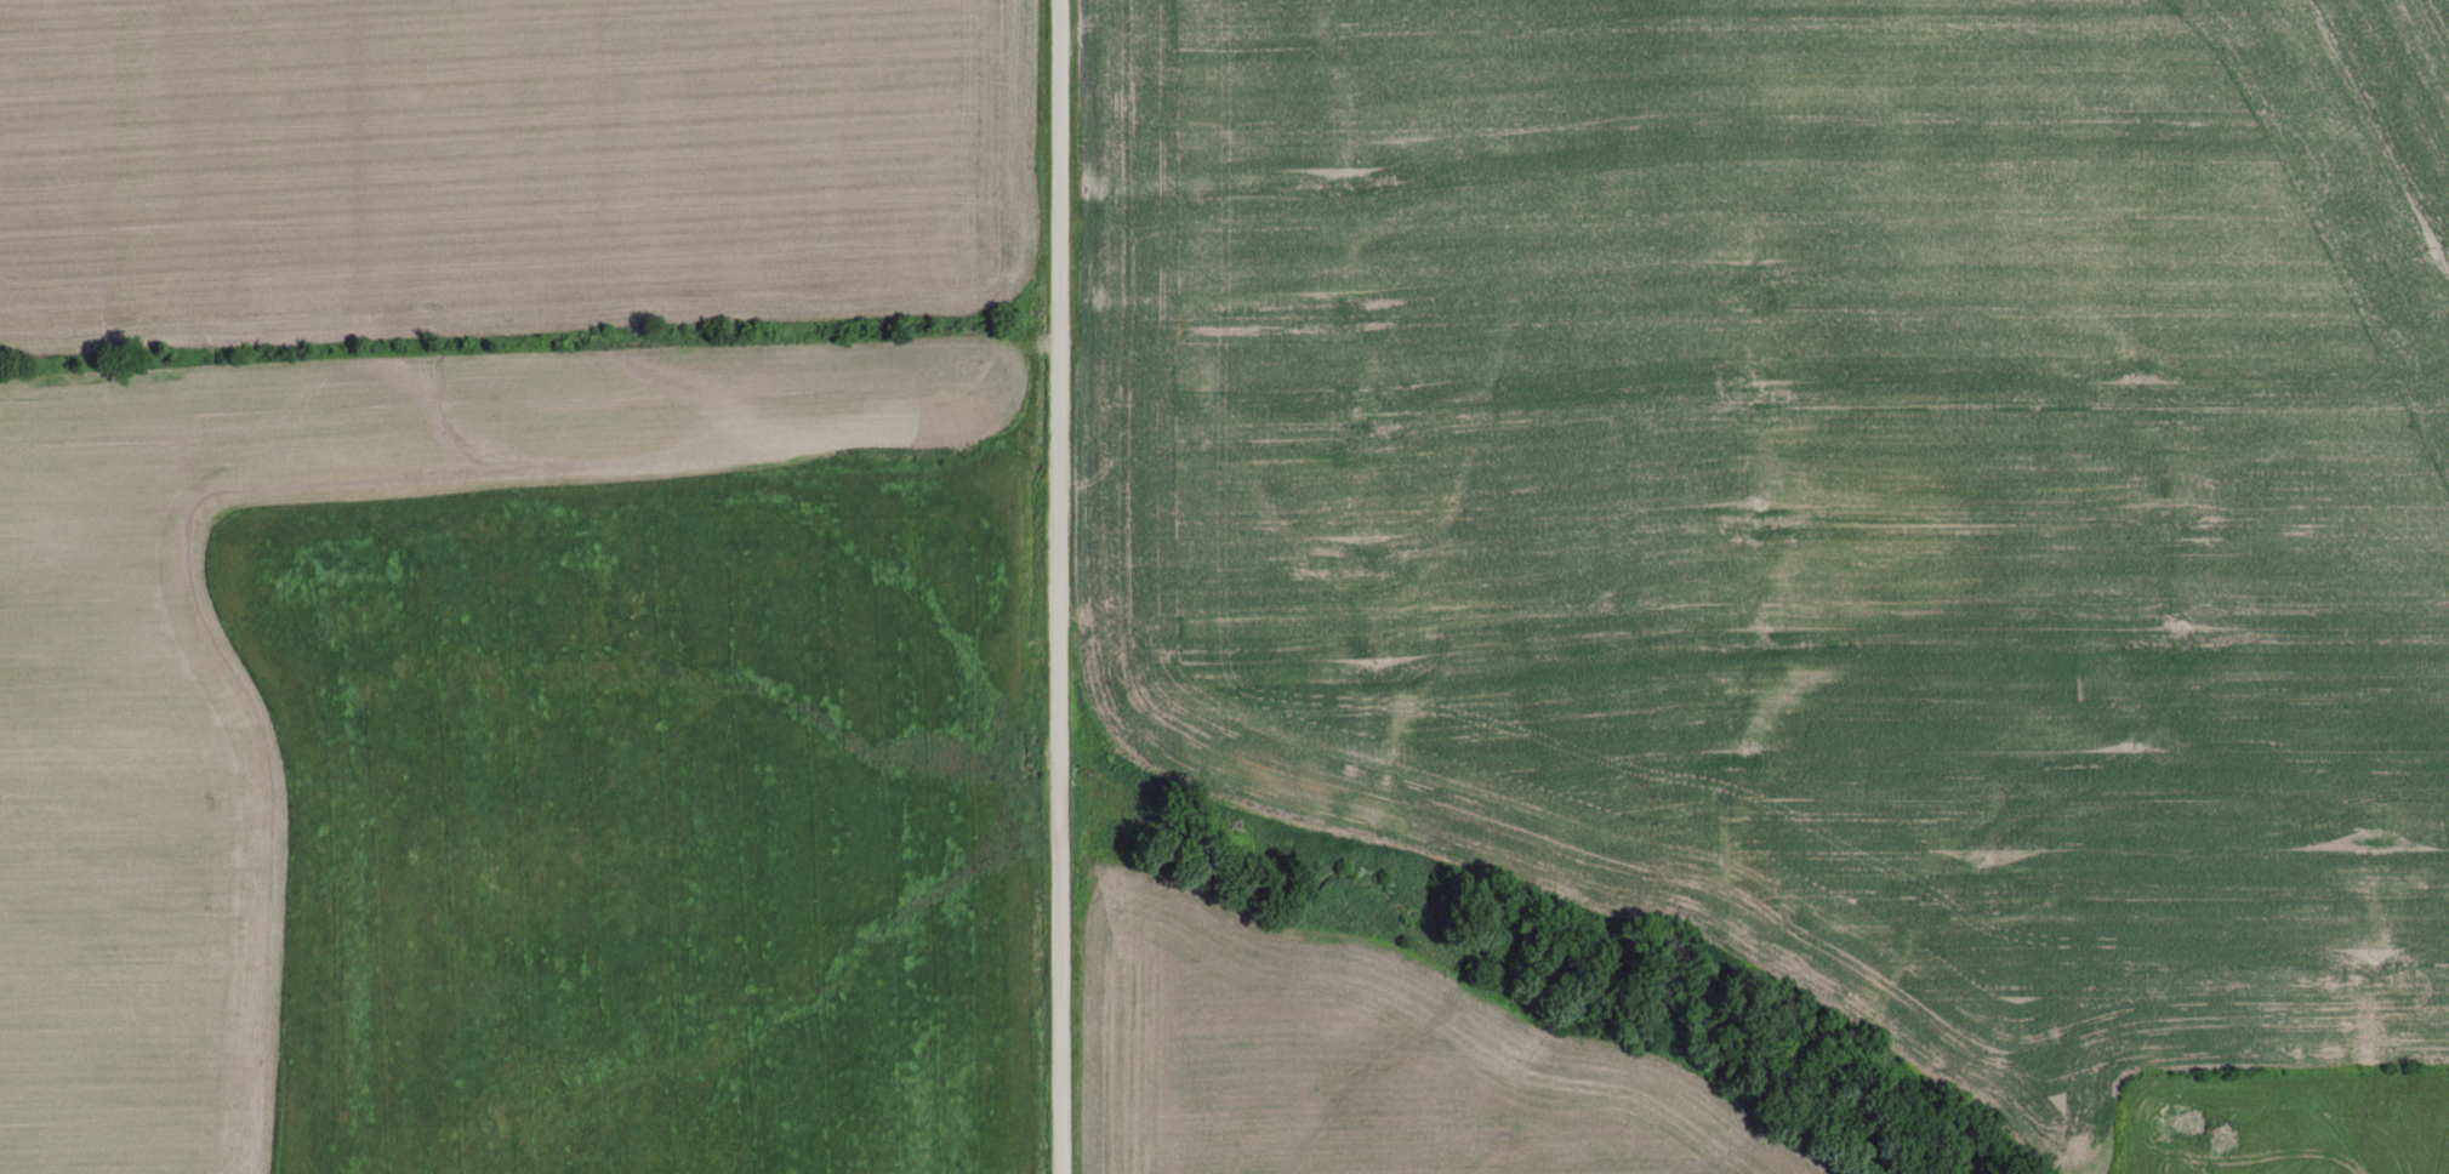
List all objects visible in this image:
road: (1057, 586)

